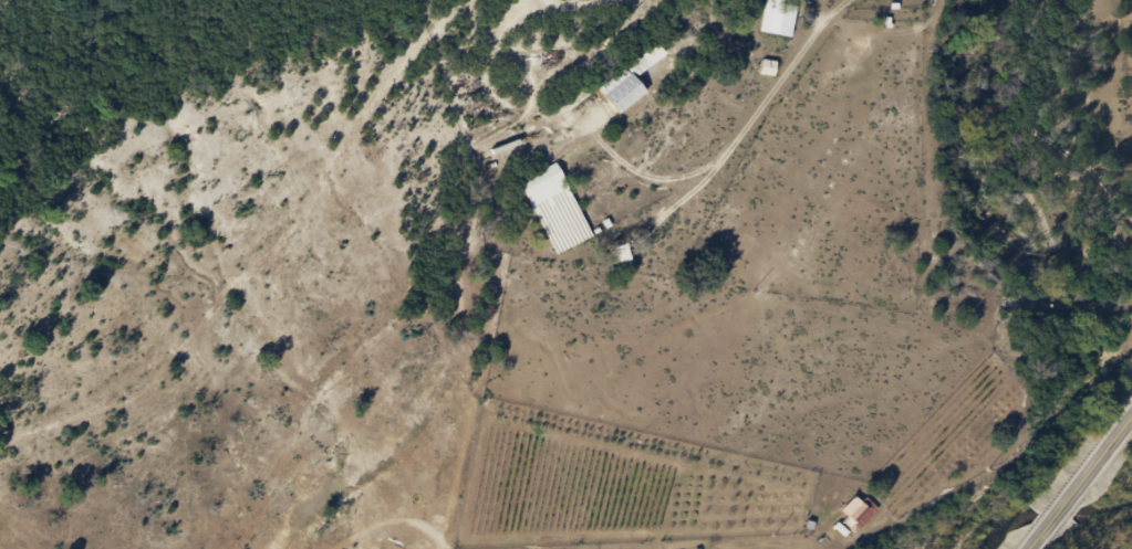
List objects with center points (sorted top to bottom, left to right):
road: (577, 4)
building: (779, 17)
building: (632, 77)
road: (781, 77)
road: (551, 115)
building: (544, 184)
road: (1079, 482)
river: (1104, 507)
building: (858, 514)
river: (1056, 516)
river: (996, 526)

